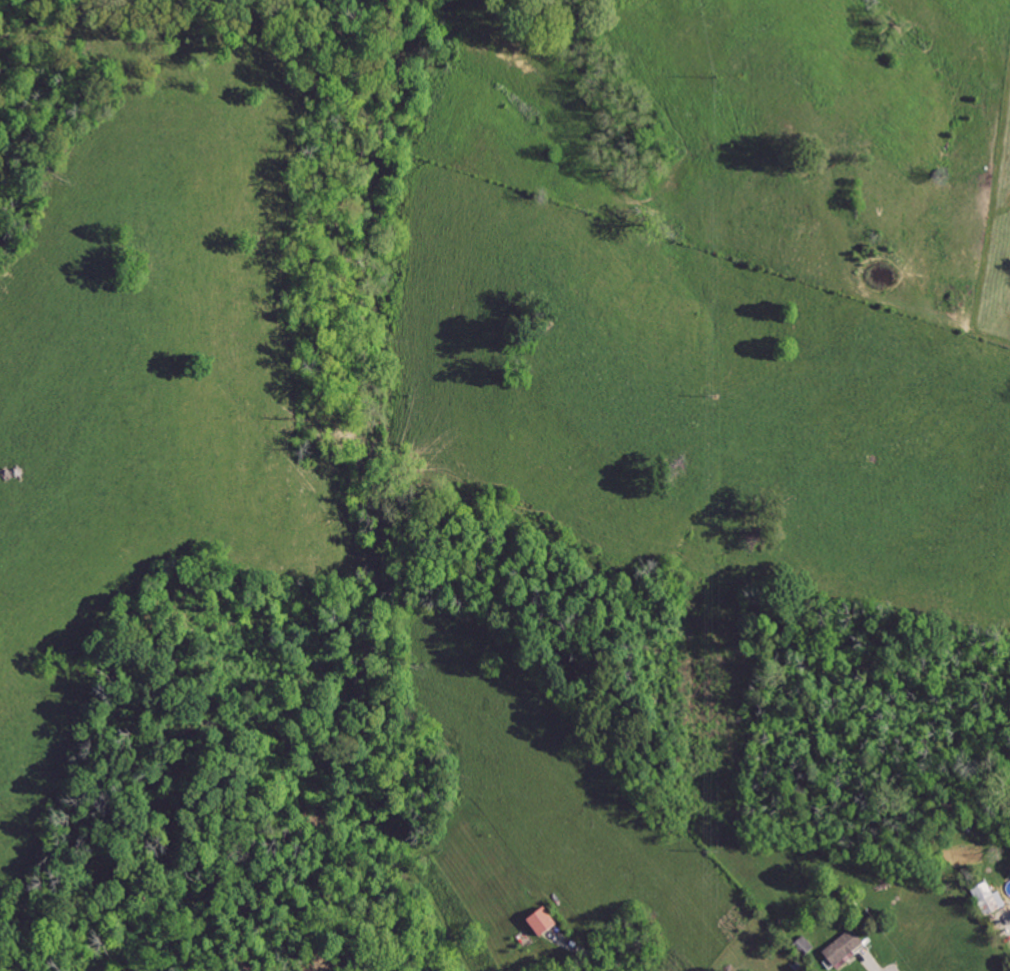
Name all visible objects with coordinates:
building: (986, 898)
road: (1007, 915)
building: (546, 921)
building: (804, 944)
building: (841, 947)
road: (872, 962)

